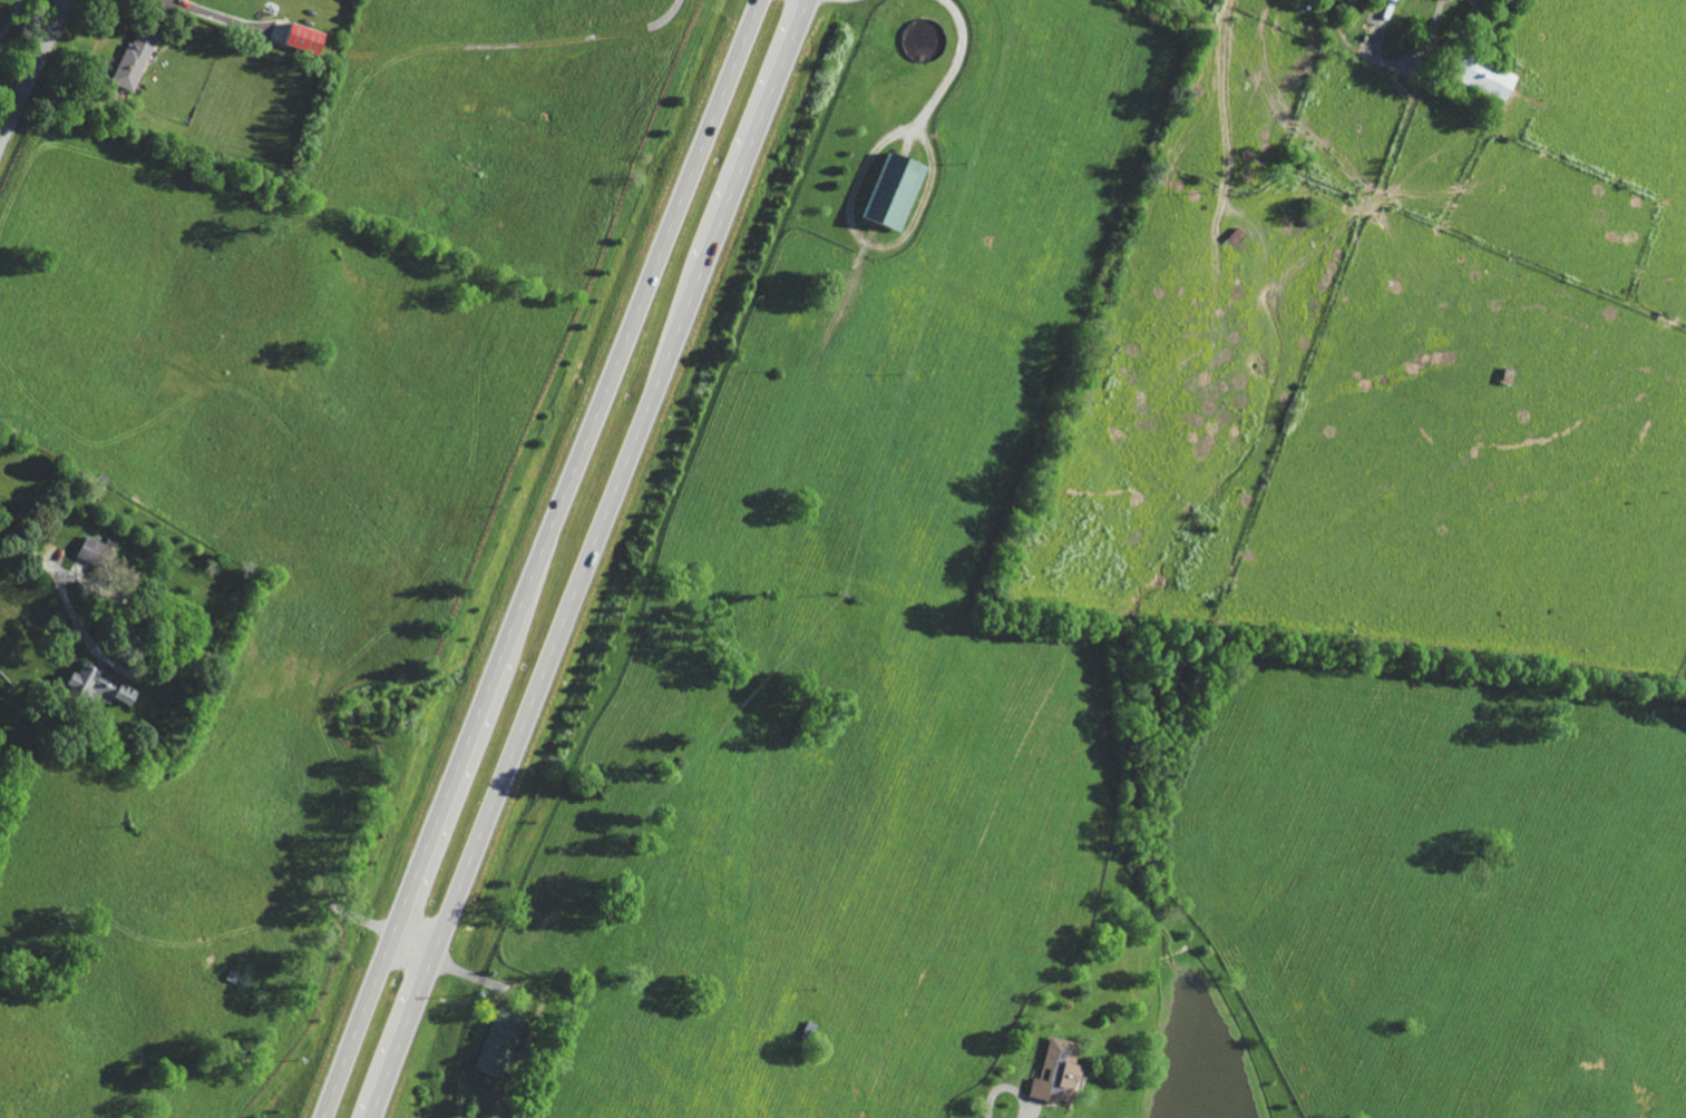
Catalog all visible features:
building: (1392, 0)
road: (223, 19)
park: (14, 30)
building: (304, 36)
road: (519, 42)
building: (140, 60)
road: (954, 60)
road: (30, 67)
building: (1477, 78)
building: (902, 189)
park: (41, 506)
road: (28, 550)
building: (97, 552)
road: (538, 559)
road: (587, 559)
road: (158, 669)
building: (110, 687)
road: (496, 979)
building: (506, 1042)
building: (1062, 1073)
road: (1006, 1086)

